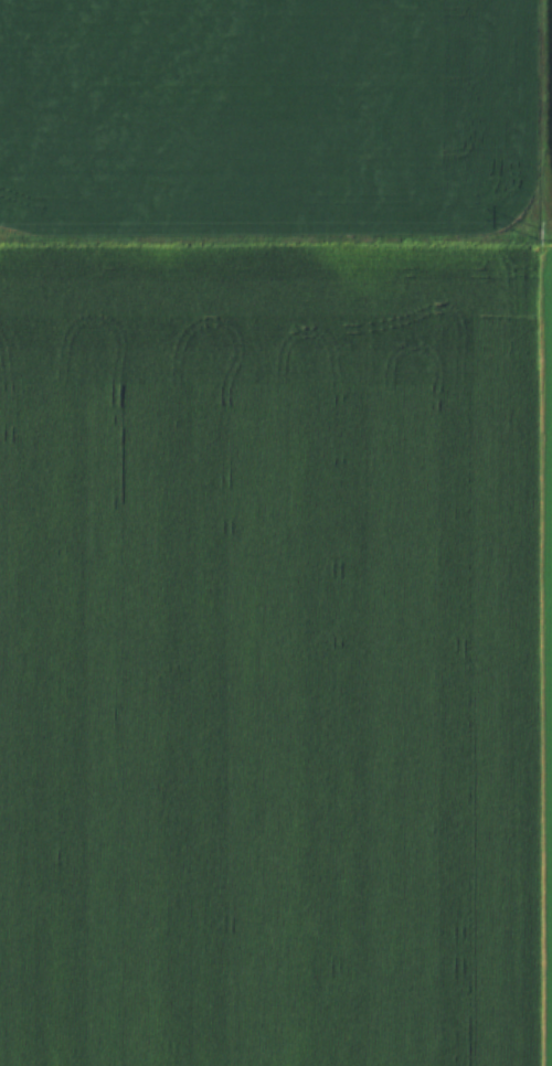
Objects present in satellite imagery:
power tower: (537, 233)

